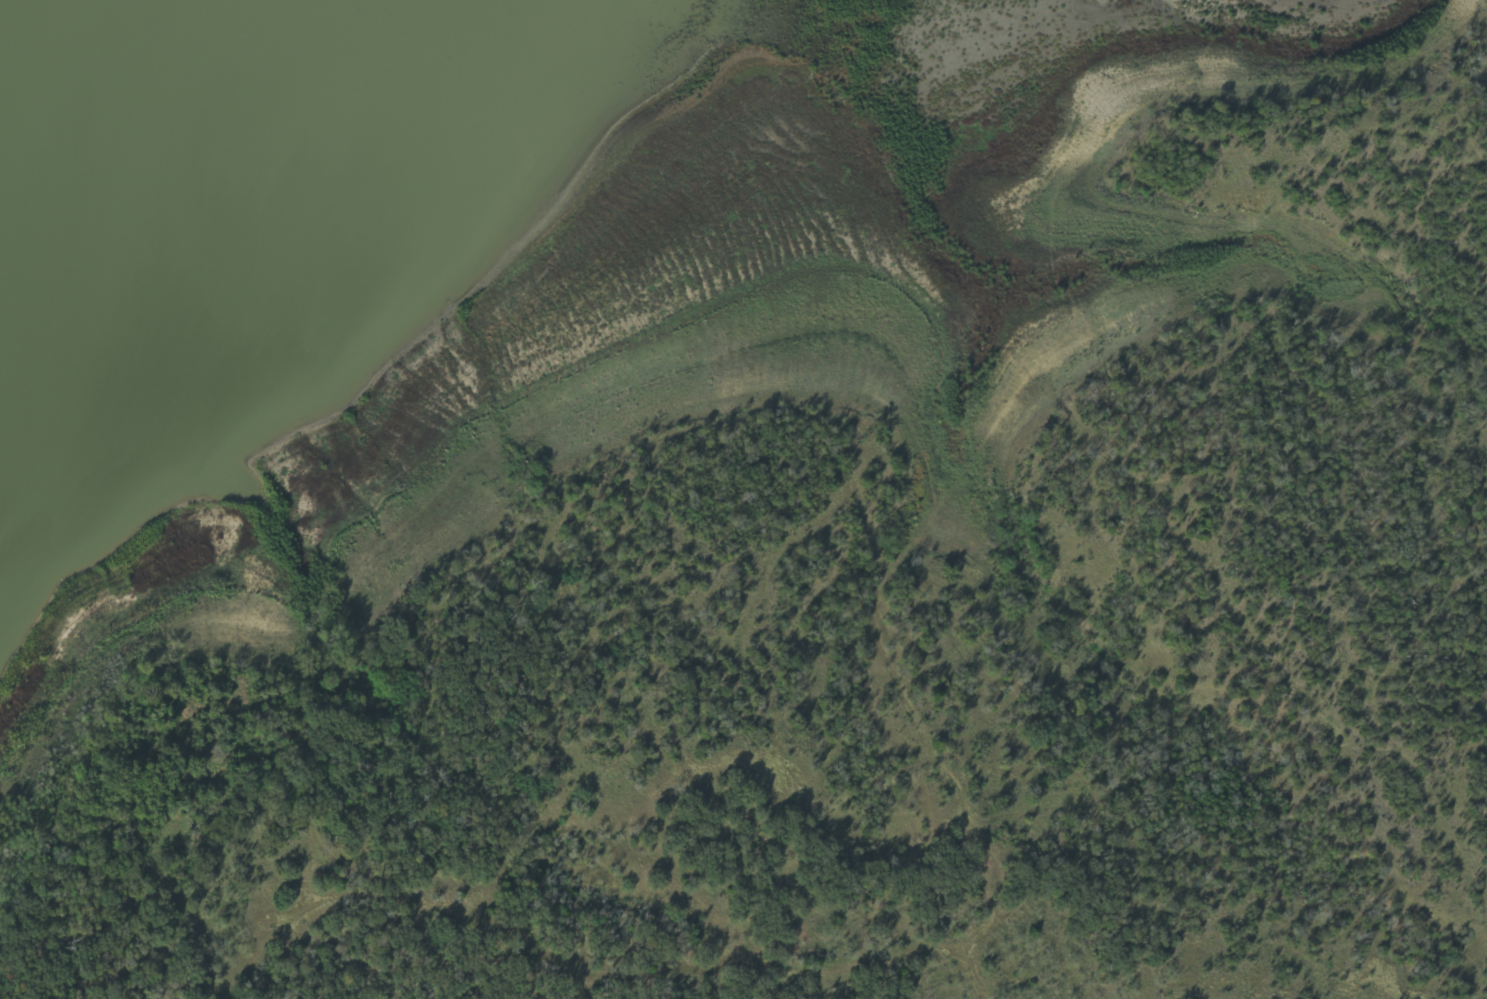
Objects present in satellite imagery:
road: (150, 857)
road: (685, 976)

